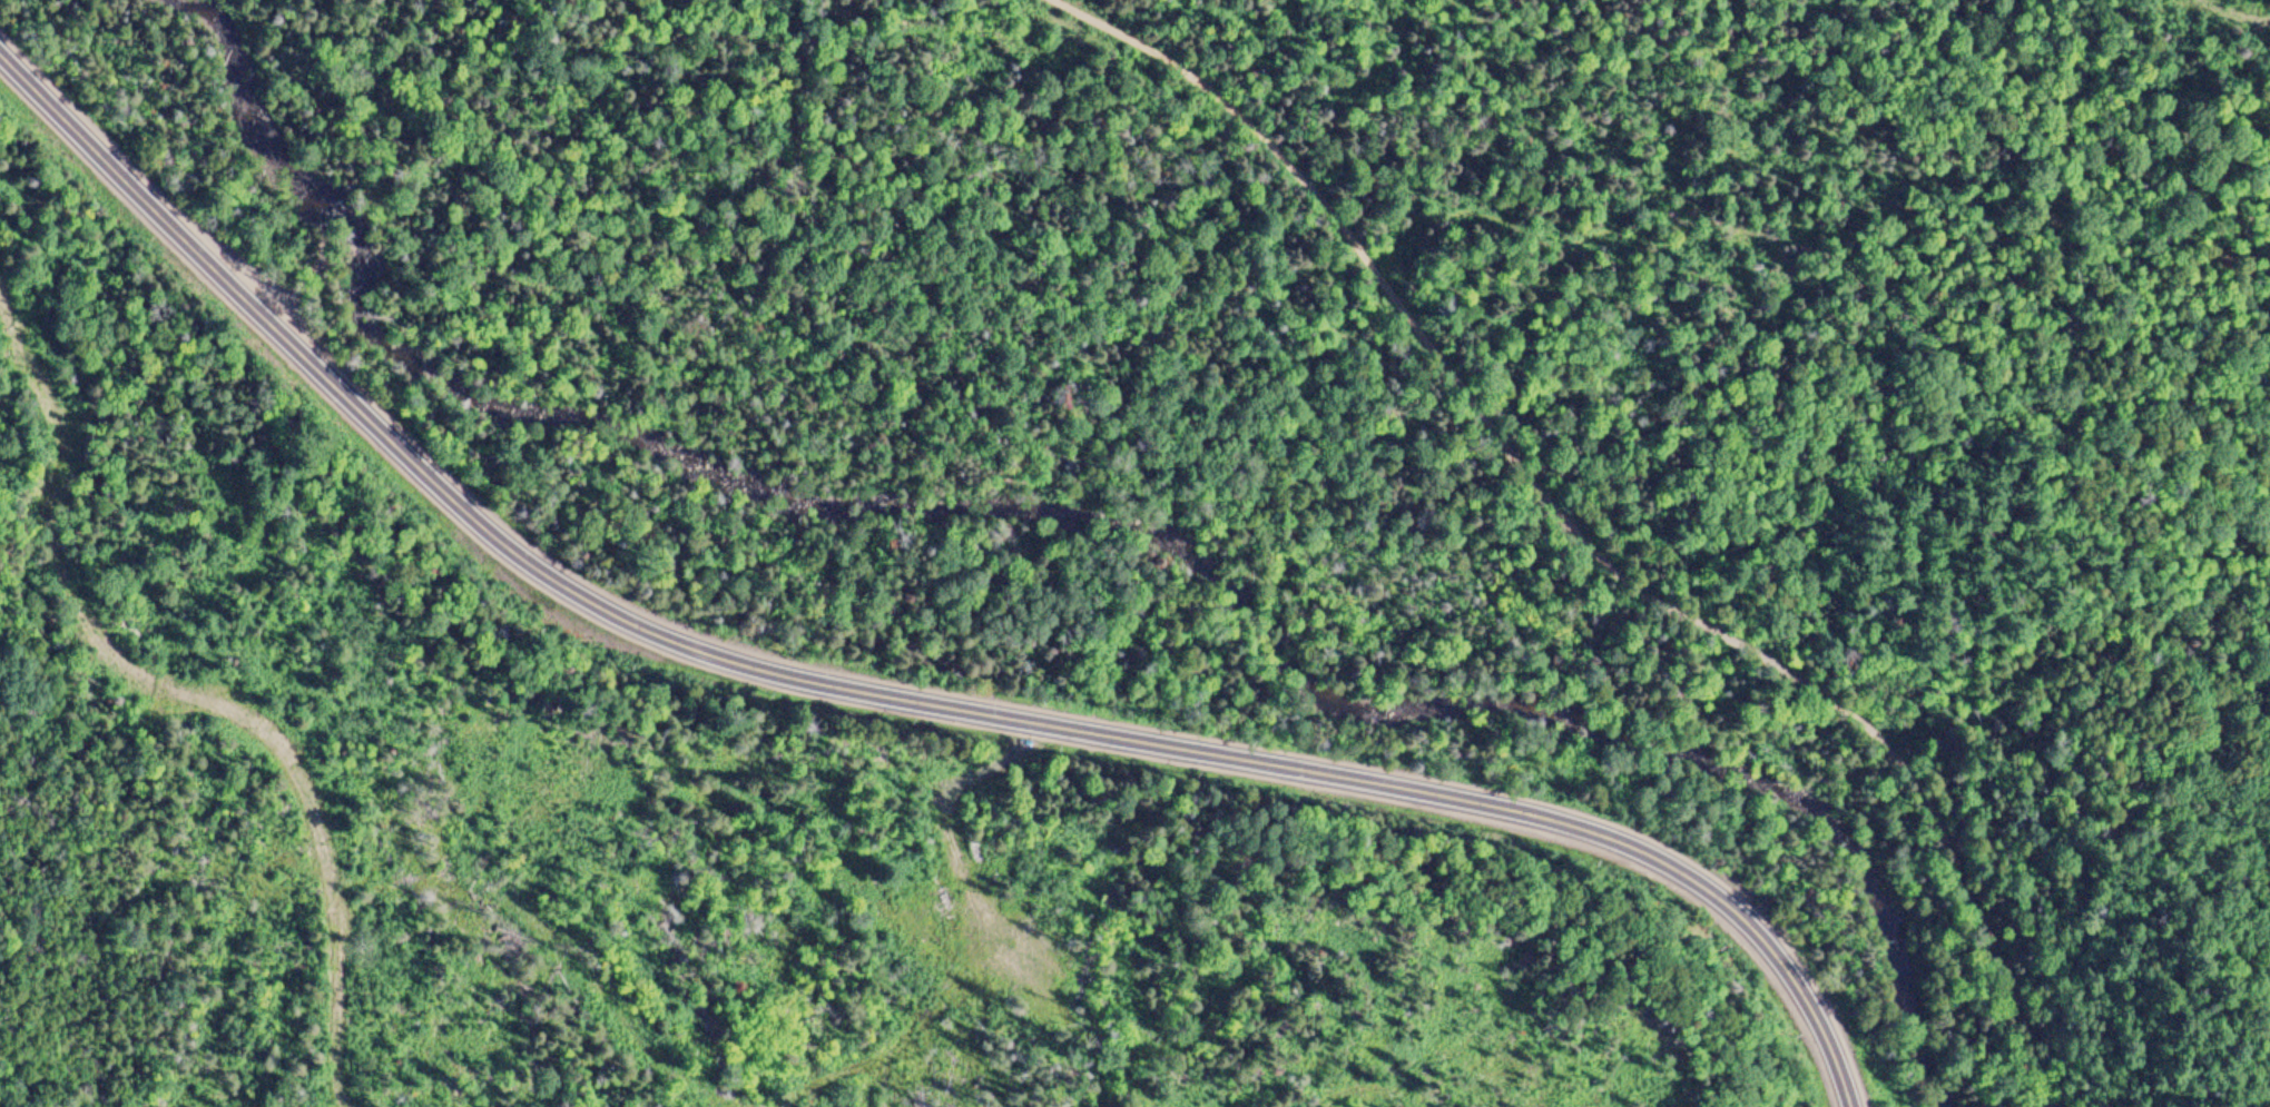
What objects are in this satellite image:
parking lot: (271, 303)
river: (1082, 557)
road: (883, 693)

